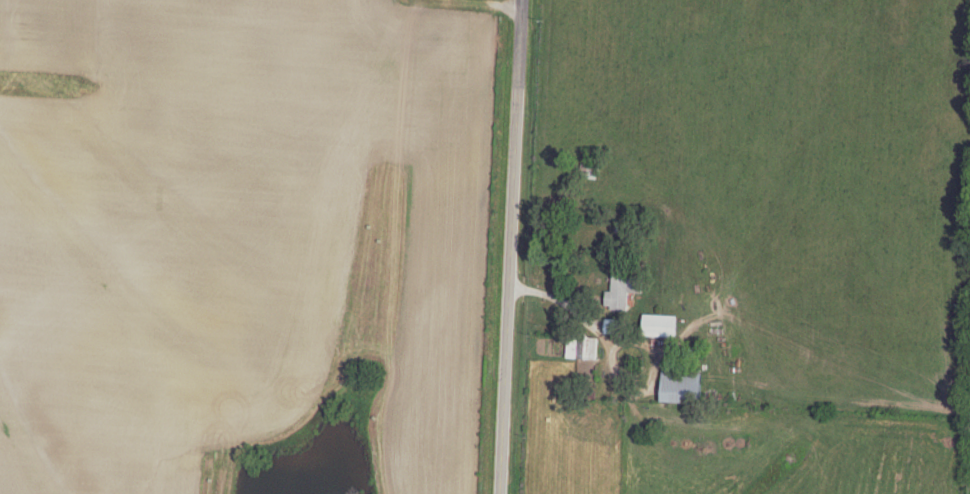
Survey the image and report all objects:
road: (510, 247)
building: (622, 288)
building: (613, 323)
building: (659, 323)
building: (680, 385)

